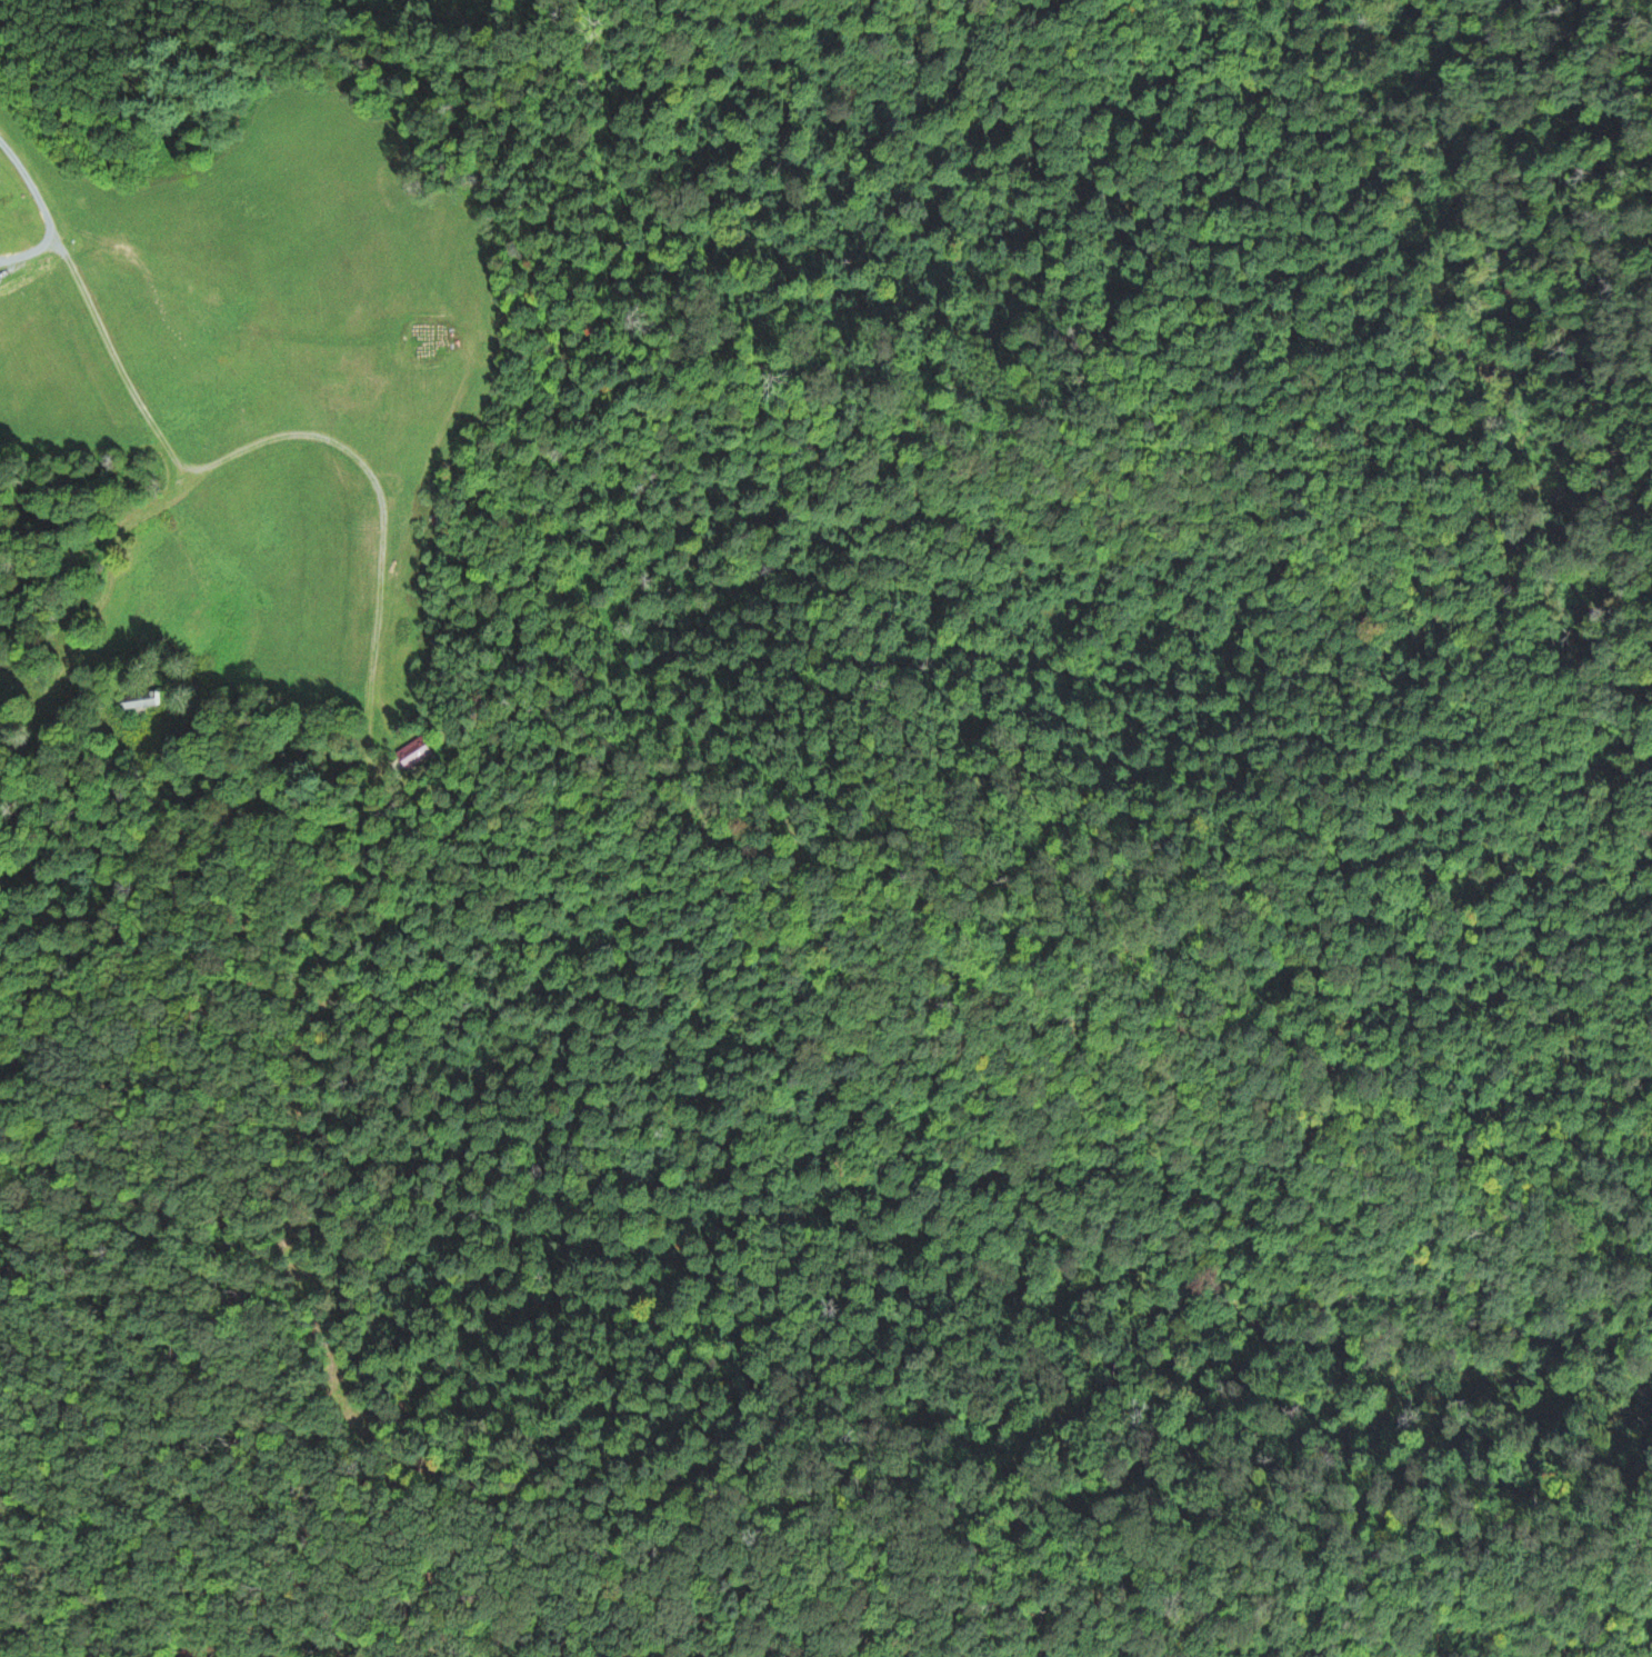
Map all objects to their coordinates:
road: (234, 346)
building: (144, 699)

